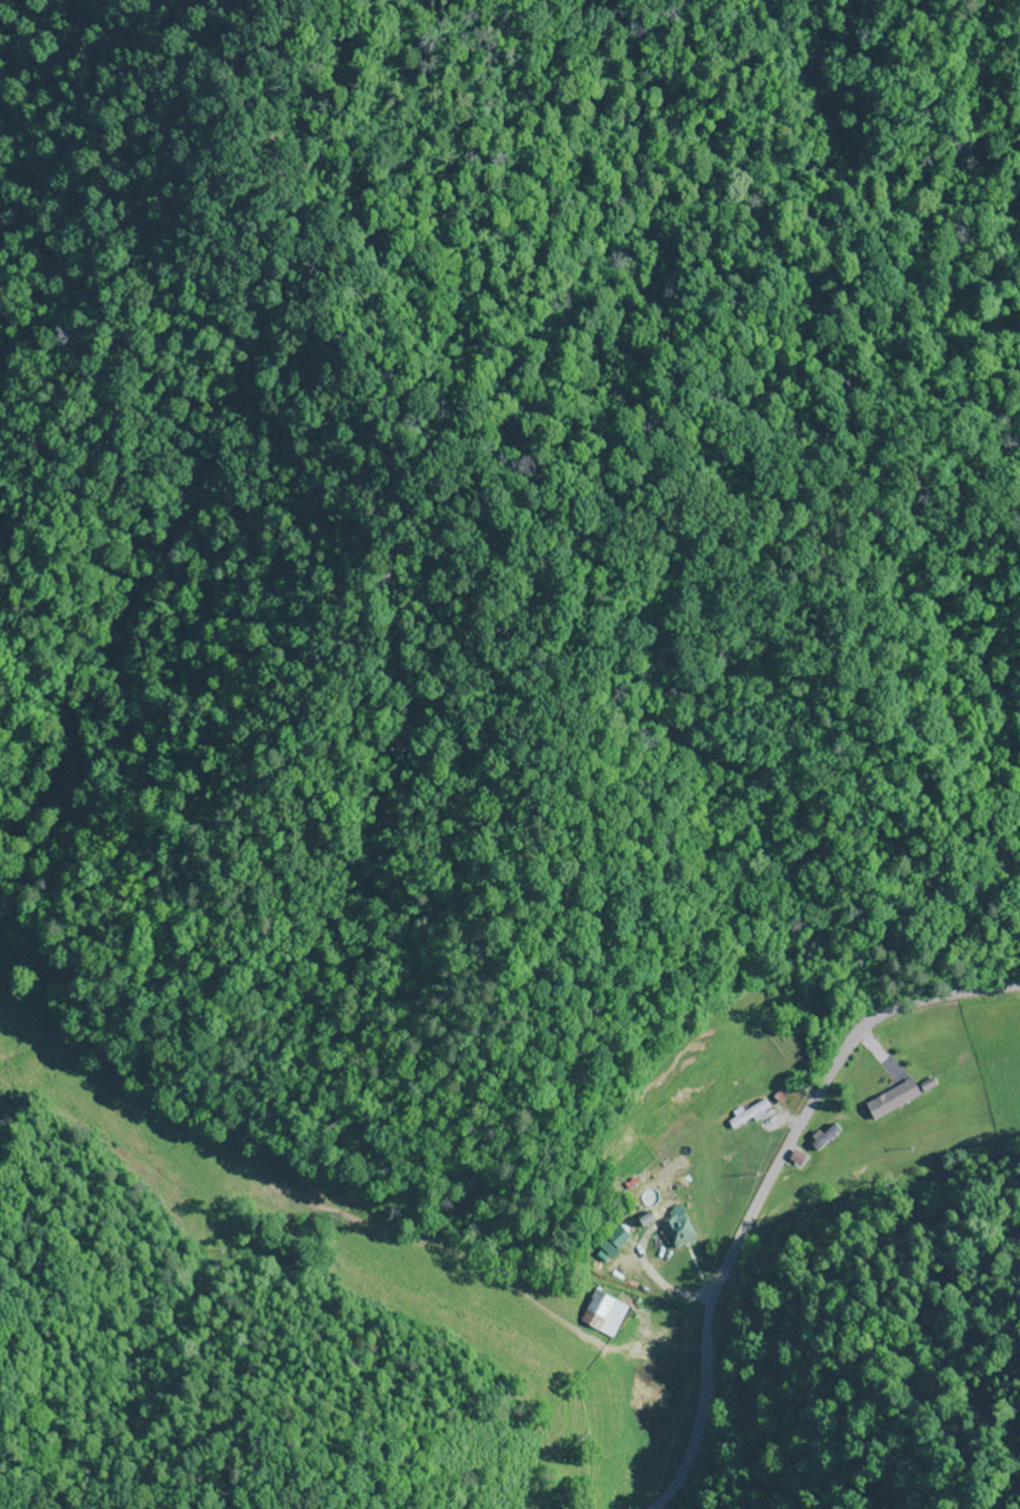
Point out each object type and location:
building: (890, 1099)
building: (747, 1115)
building: (824, 1137)
road: (768, 1189)
building: (643, 1220)
building: (677, 1231)
building: (617, 1238)
building: (598, 1305)

